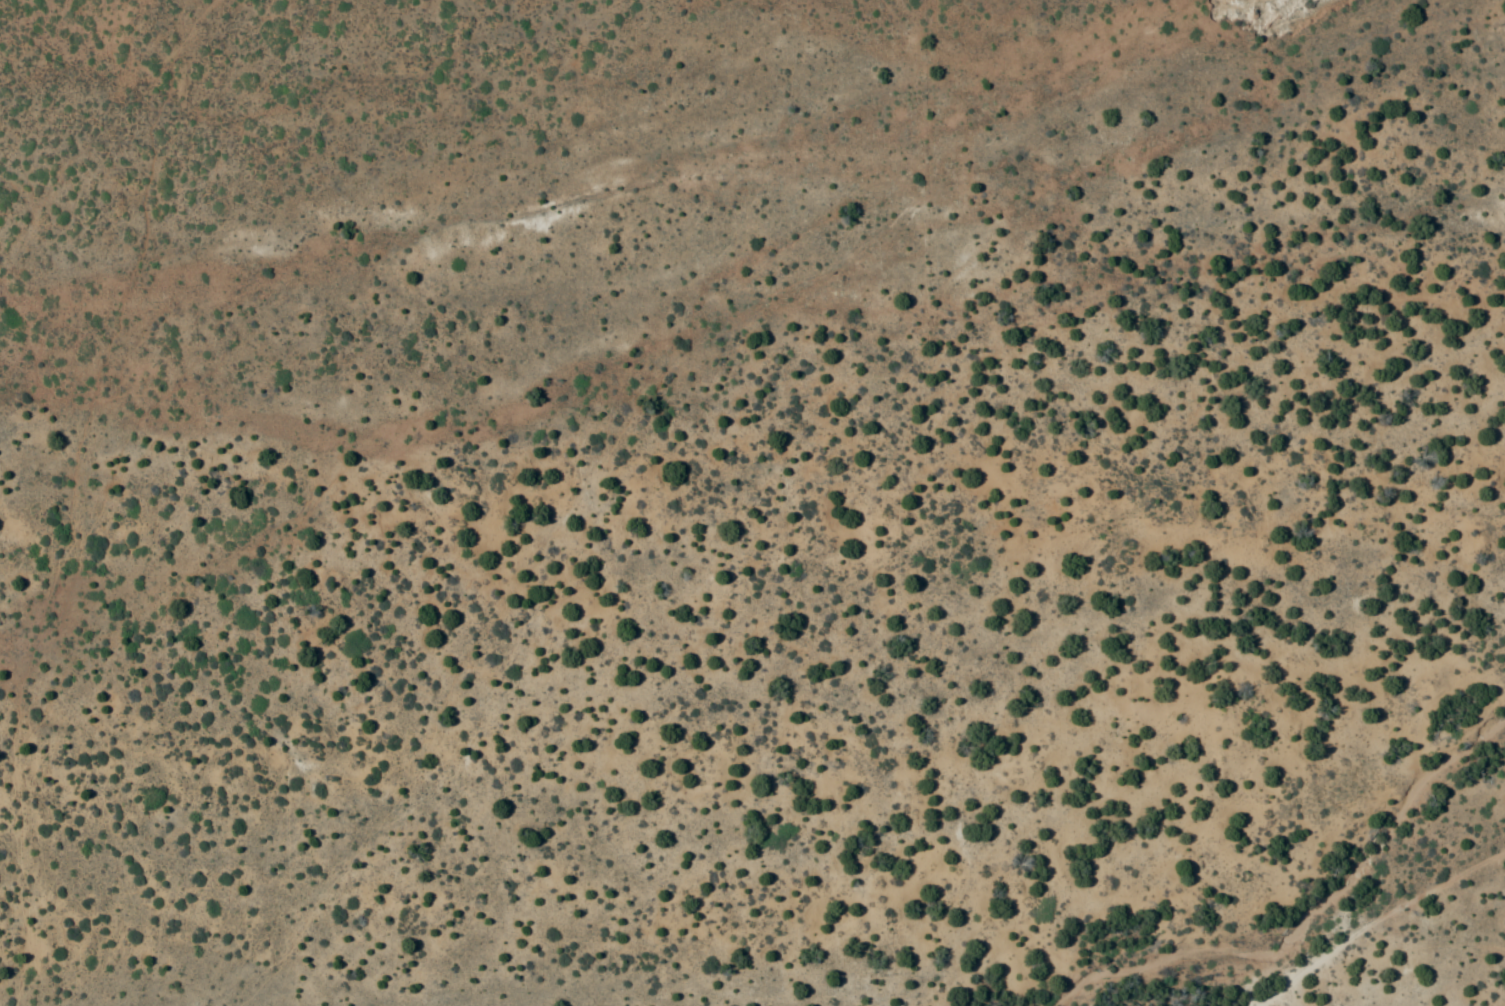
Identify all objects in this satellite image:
road: (1396, 940)

